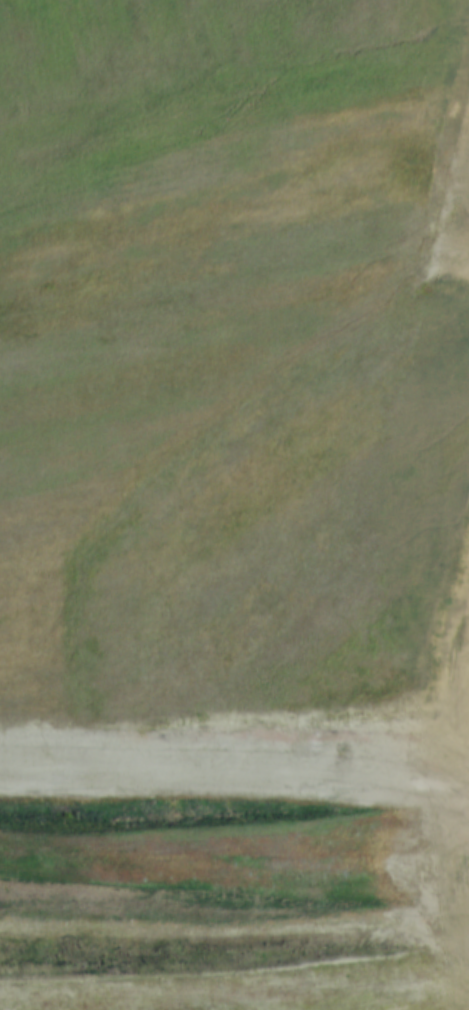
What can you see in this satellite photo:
road: (235, 765)

